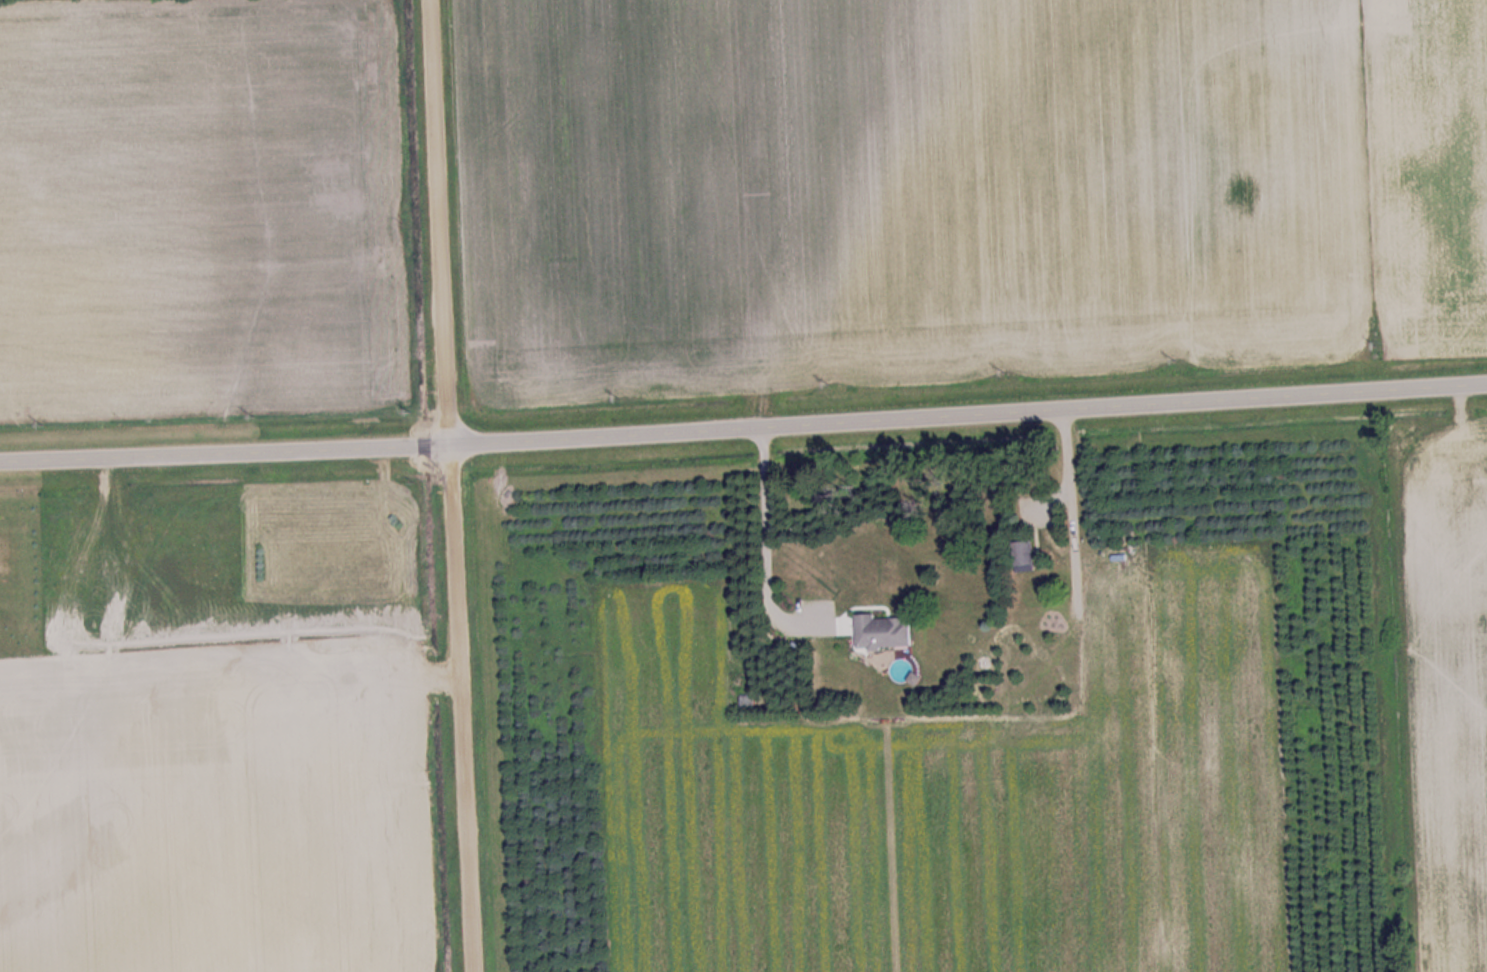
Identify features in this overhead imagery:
road: (743, 428)
road: (445, 486)
building: (1025, 553)
building: (1054, 618)
building: (886, 632)

